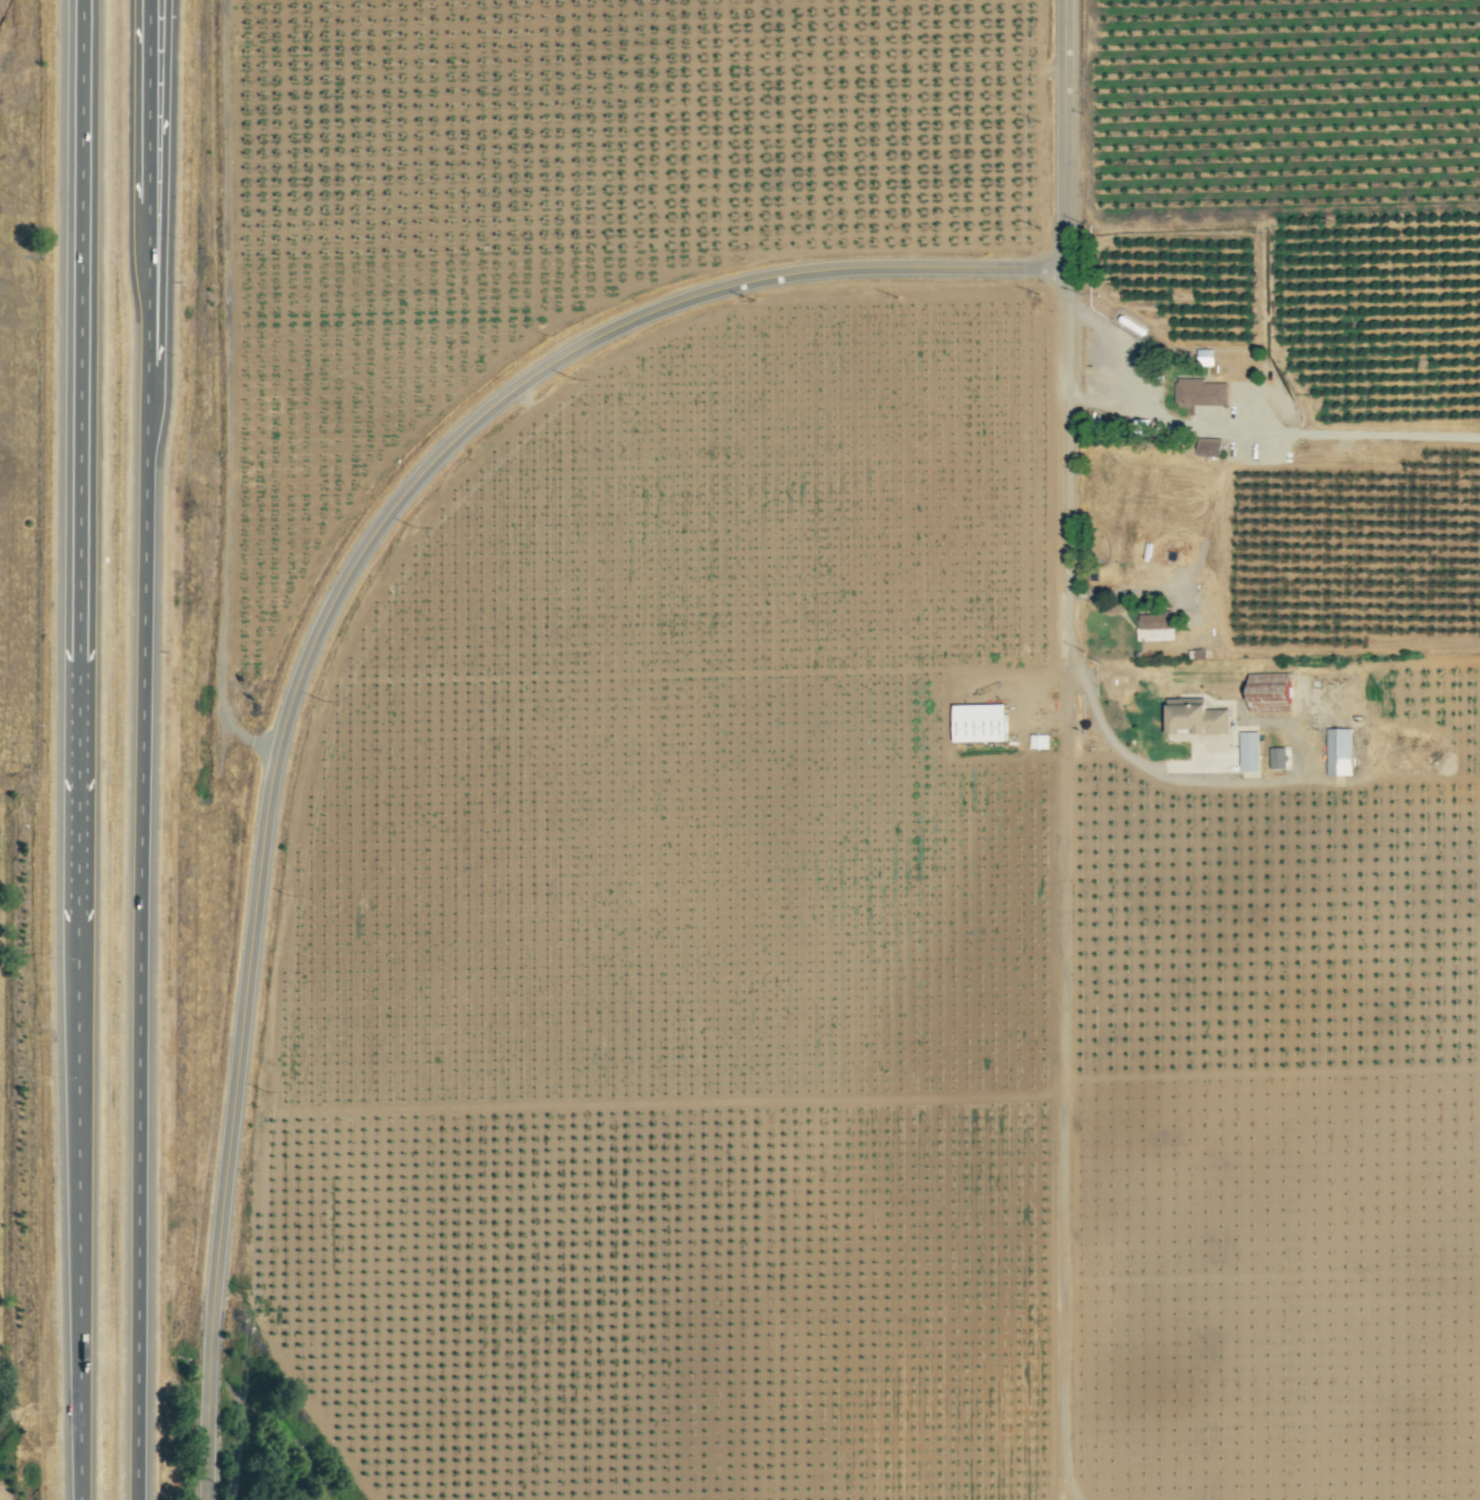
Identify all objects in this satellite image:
road: (1063, 134)
road: (161, 200)
road: (83, 223)
road: (145, 241)
road: (1107, 368)
building: (1199, 392)
road: (1064, 446)
building: (1207, 447)
road: (334, 599)
building: (1154, 626)
building: (1268, 685)
building: (1193, 717)
building: (976, 723)
building: (1037, 741)
building: (1248, 751)
building: (1337, 752)
building: (1276, 758)
road: (1136, 762)
road: (79, 973)
road: (141, 991)
road: (207, 1469)

